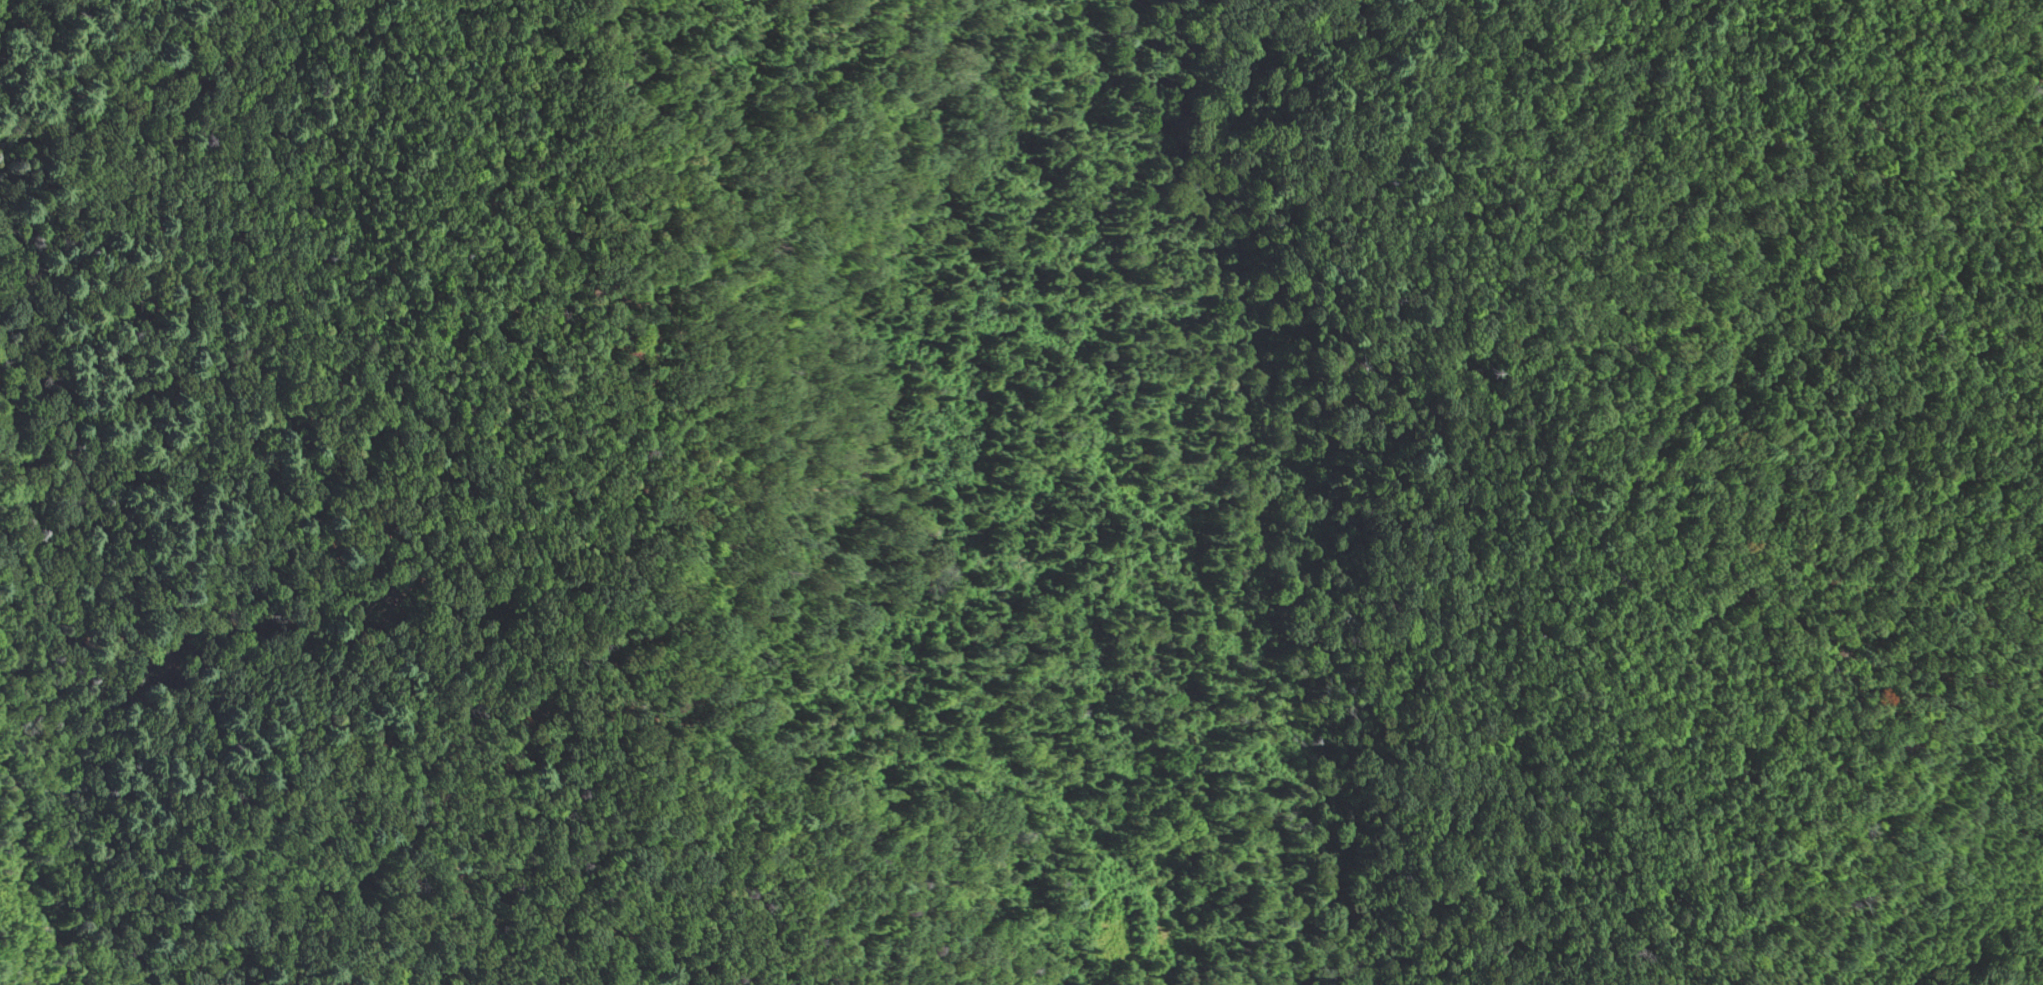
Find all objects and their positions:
road: (25, 917)

